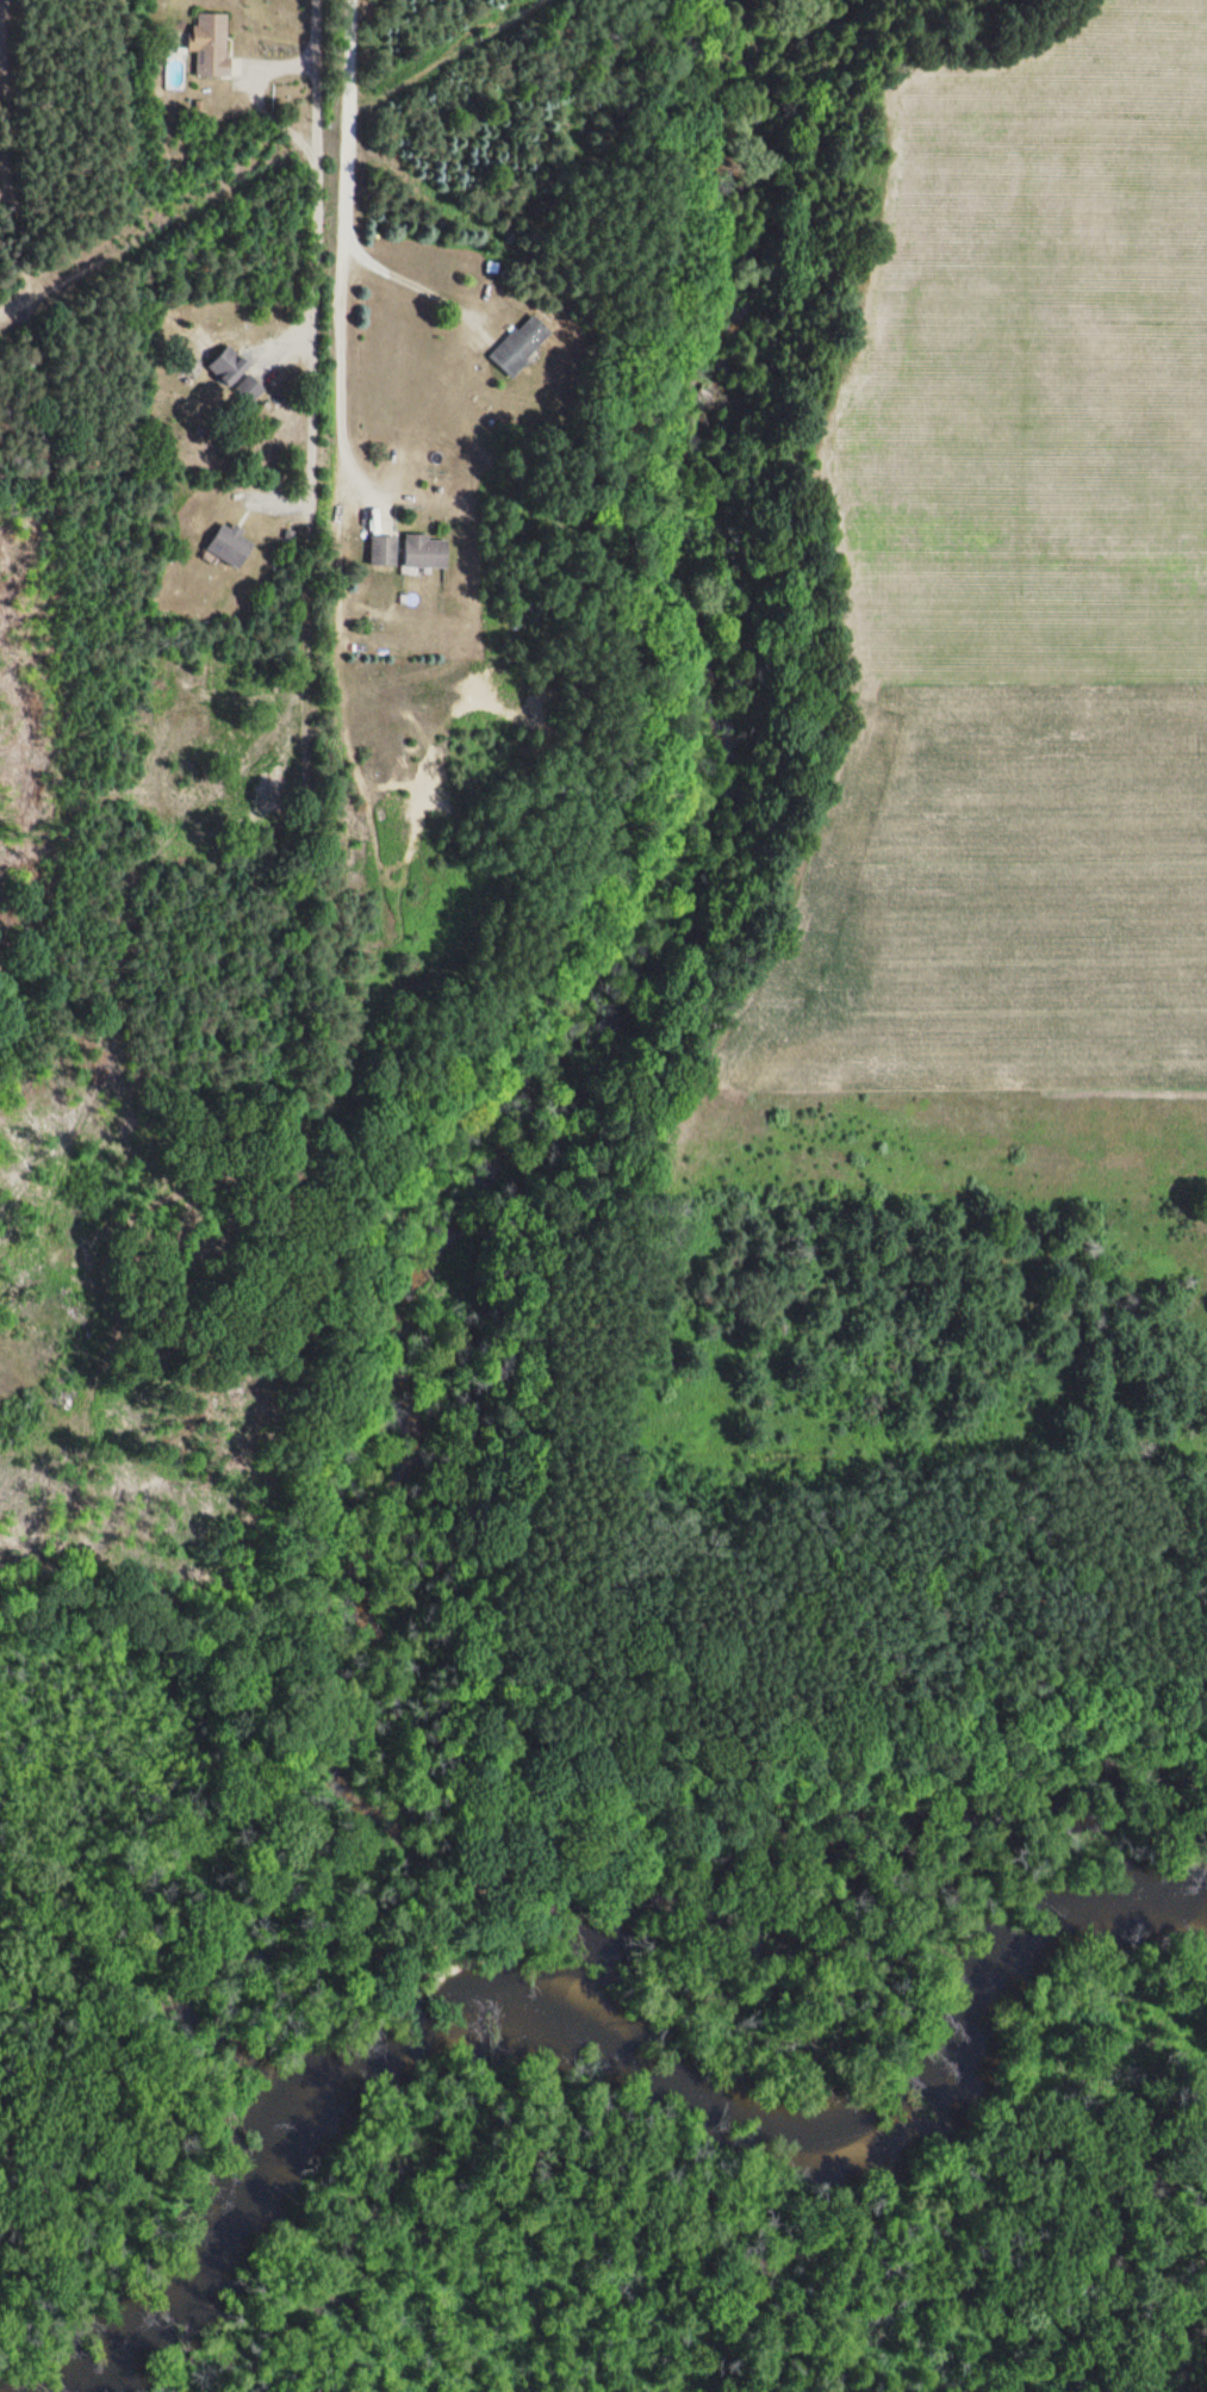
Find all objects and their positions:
building: (211, 44)
road: (315, 247)
road: (340, 249)
building: (521, 344)
building: (236, 375)
building: (231, 546)
building: (384, 549)
building: (427, 551)
river: (602, 2027)

